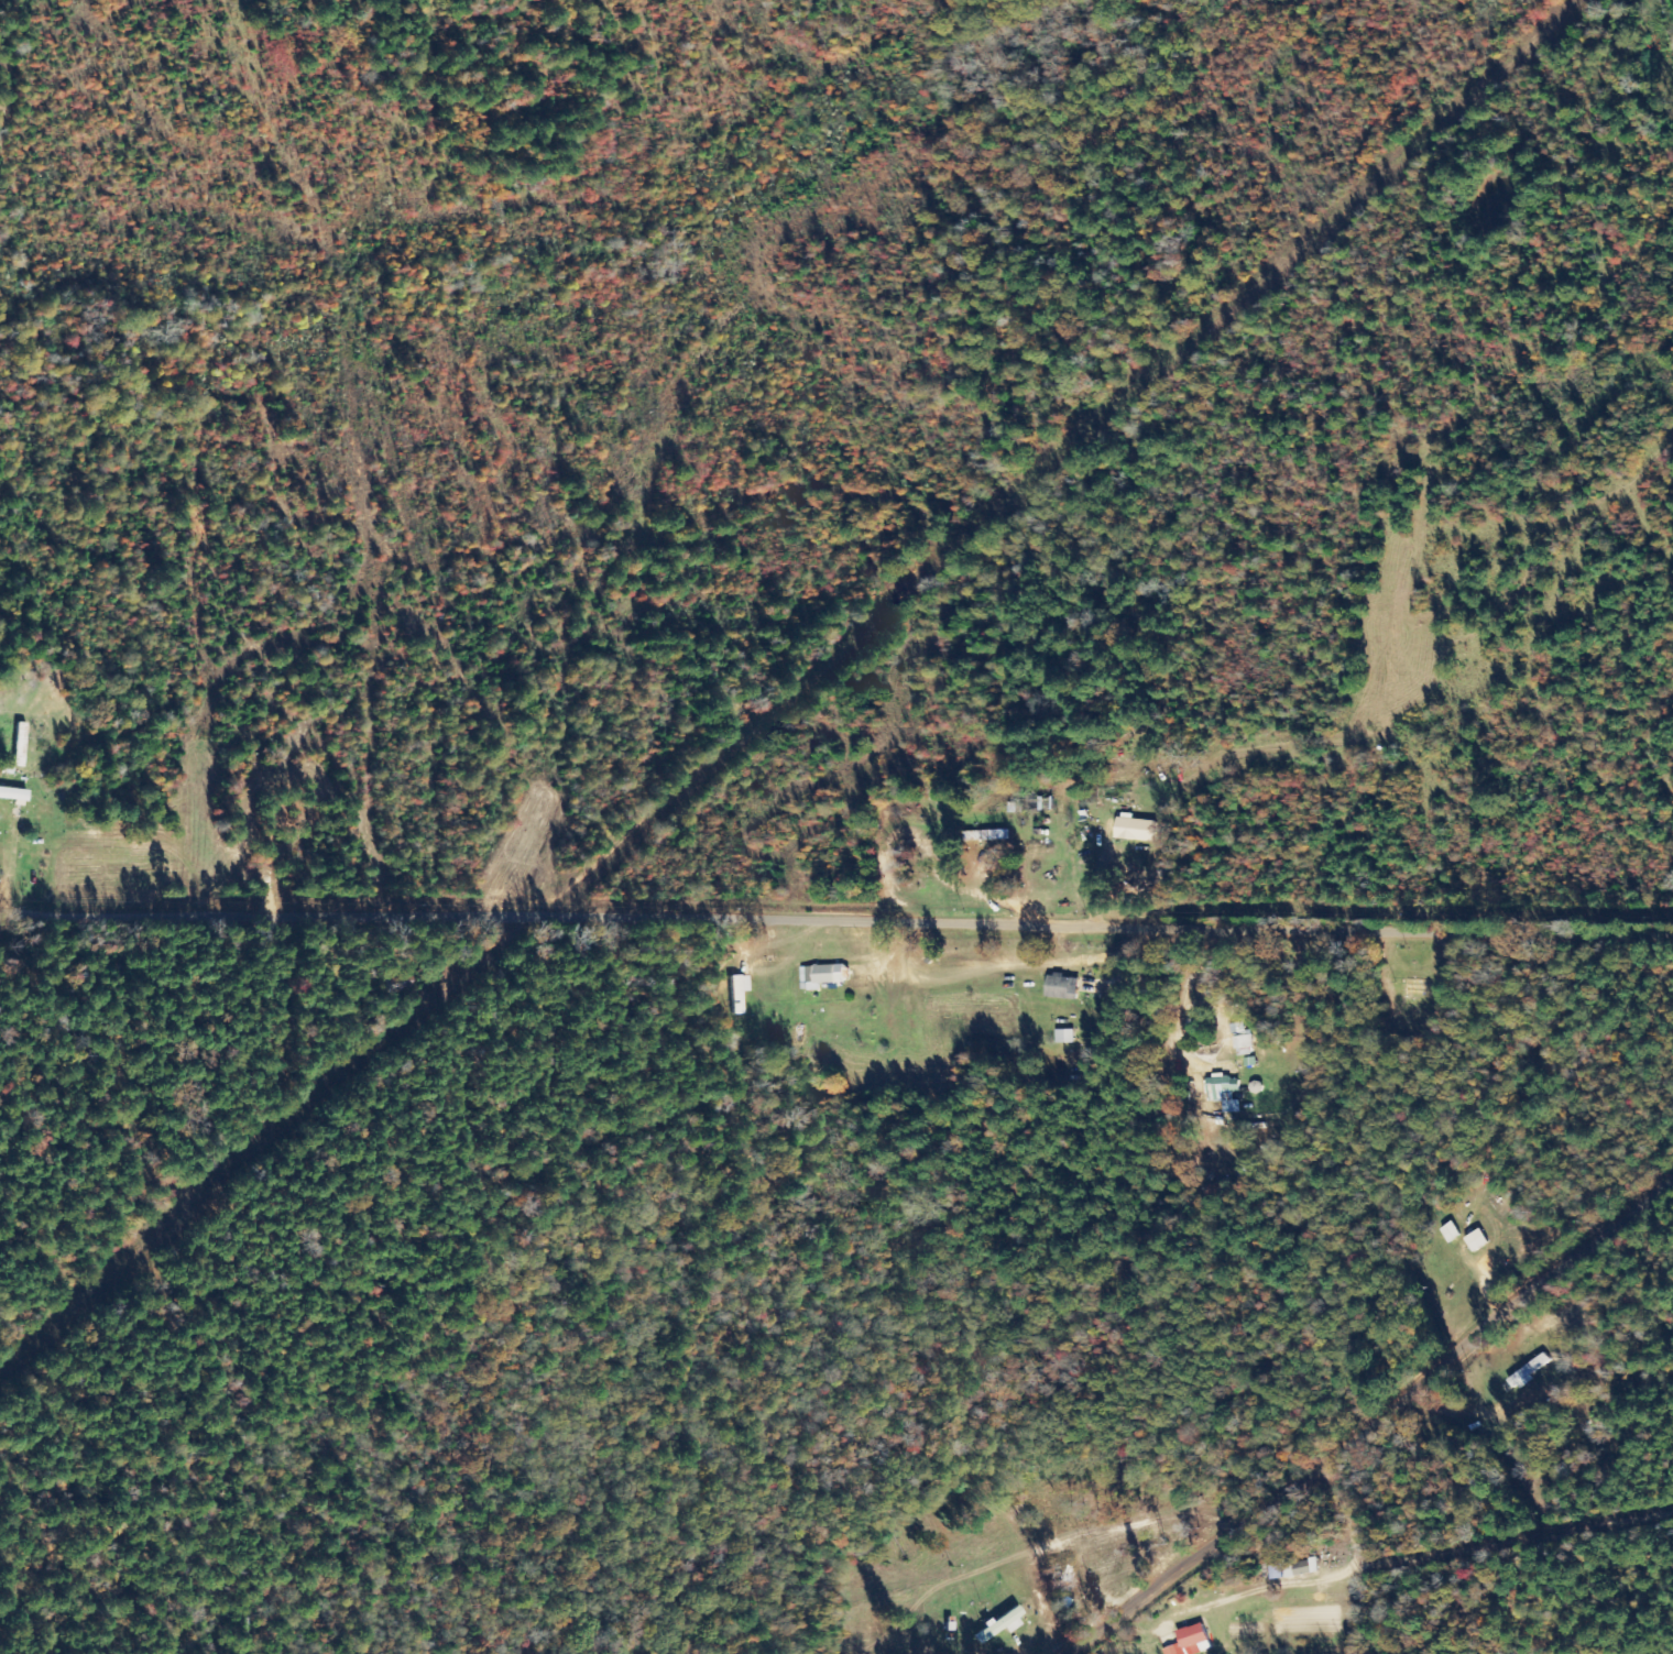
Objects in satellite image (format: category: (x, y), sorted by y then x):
building: (1136, 828)
building: (988, 834)
road: (859, 922)
building: (824, 973)
building: (1064, 986)
building: (739, 992)
building: (1065, 1034)
building: (1243, 1038)
building: (1225, 1091)
building: (1450, 1231)
building: (1477, 1239)
road: (1380, 1420)
building: (1299, 1567)
building: (1275, 1571)
building: (1000, 1623)
building: (1192, 1641)

